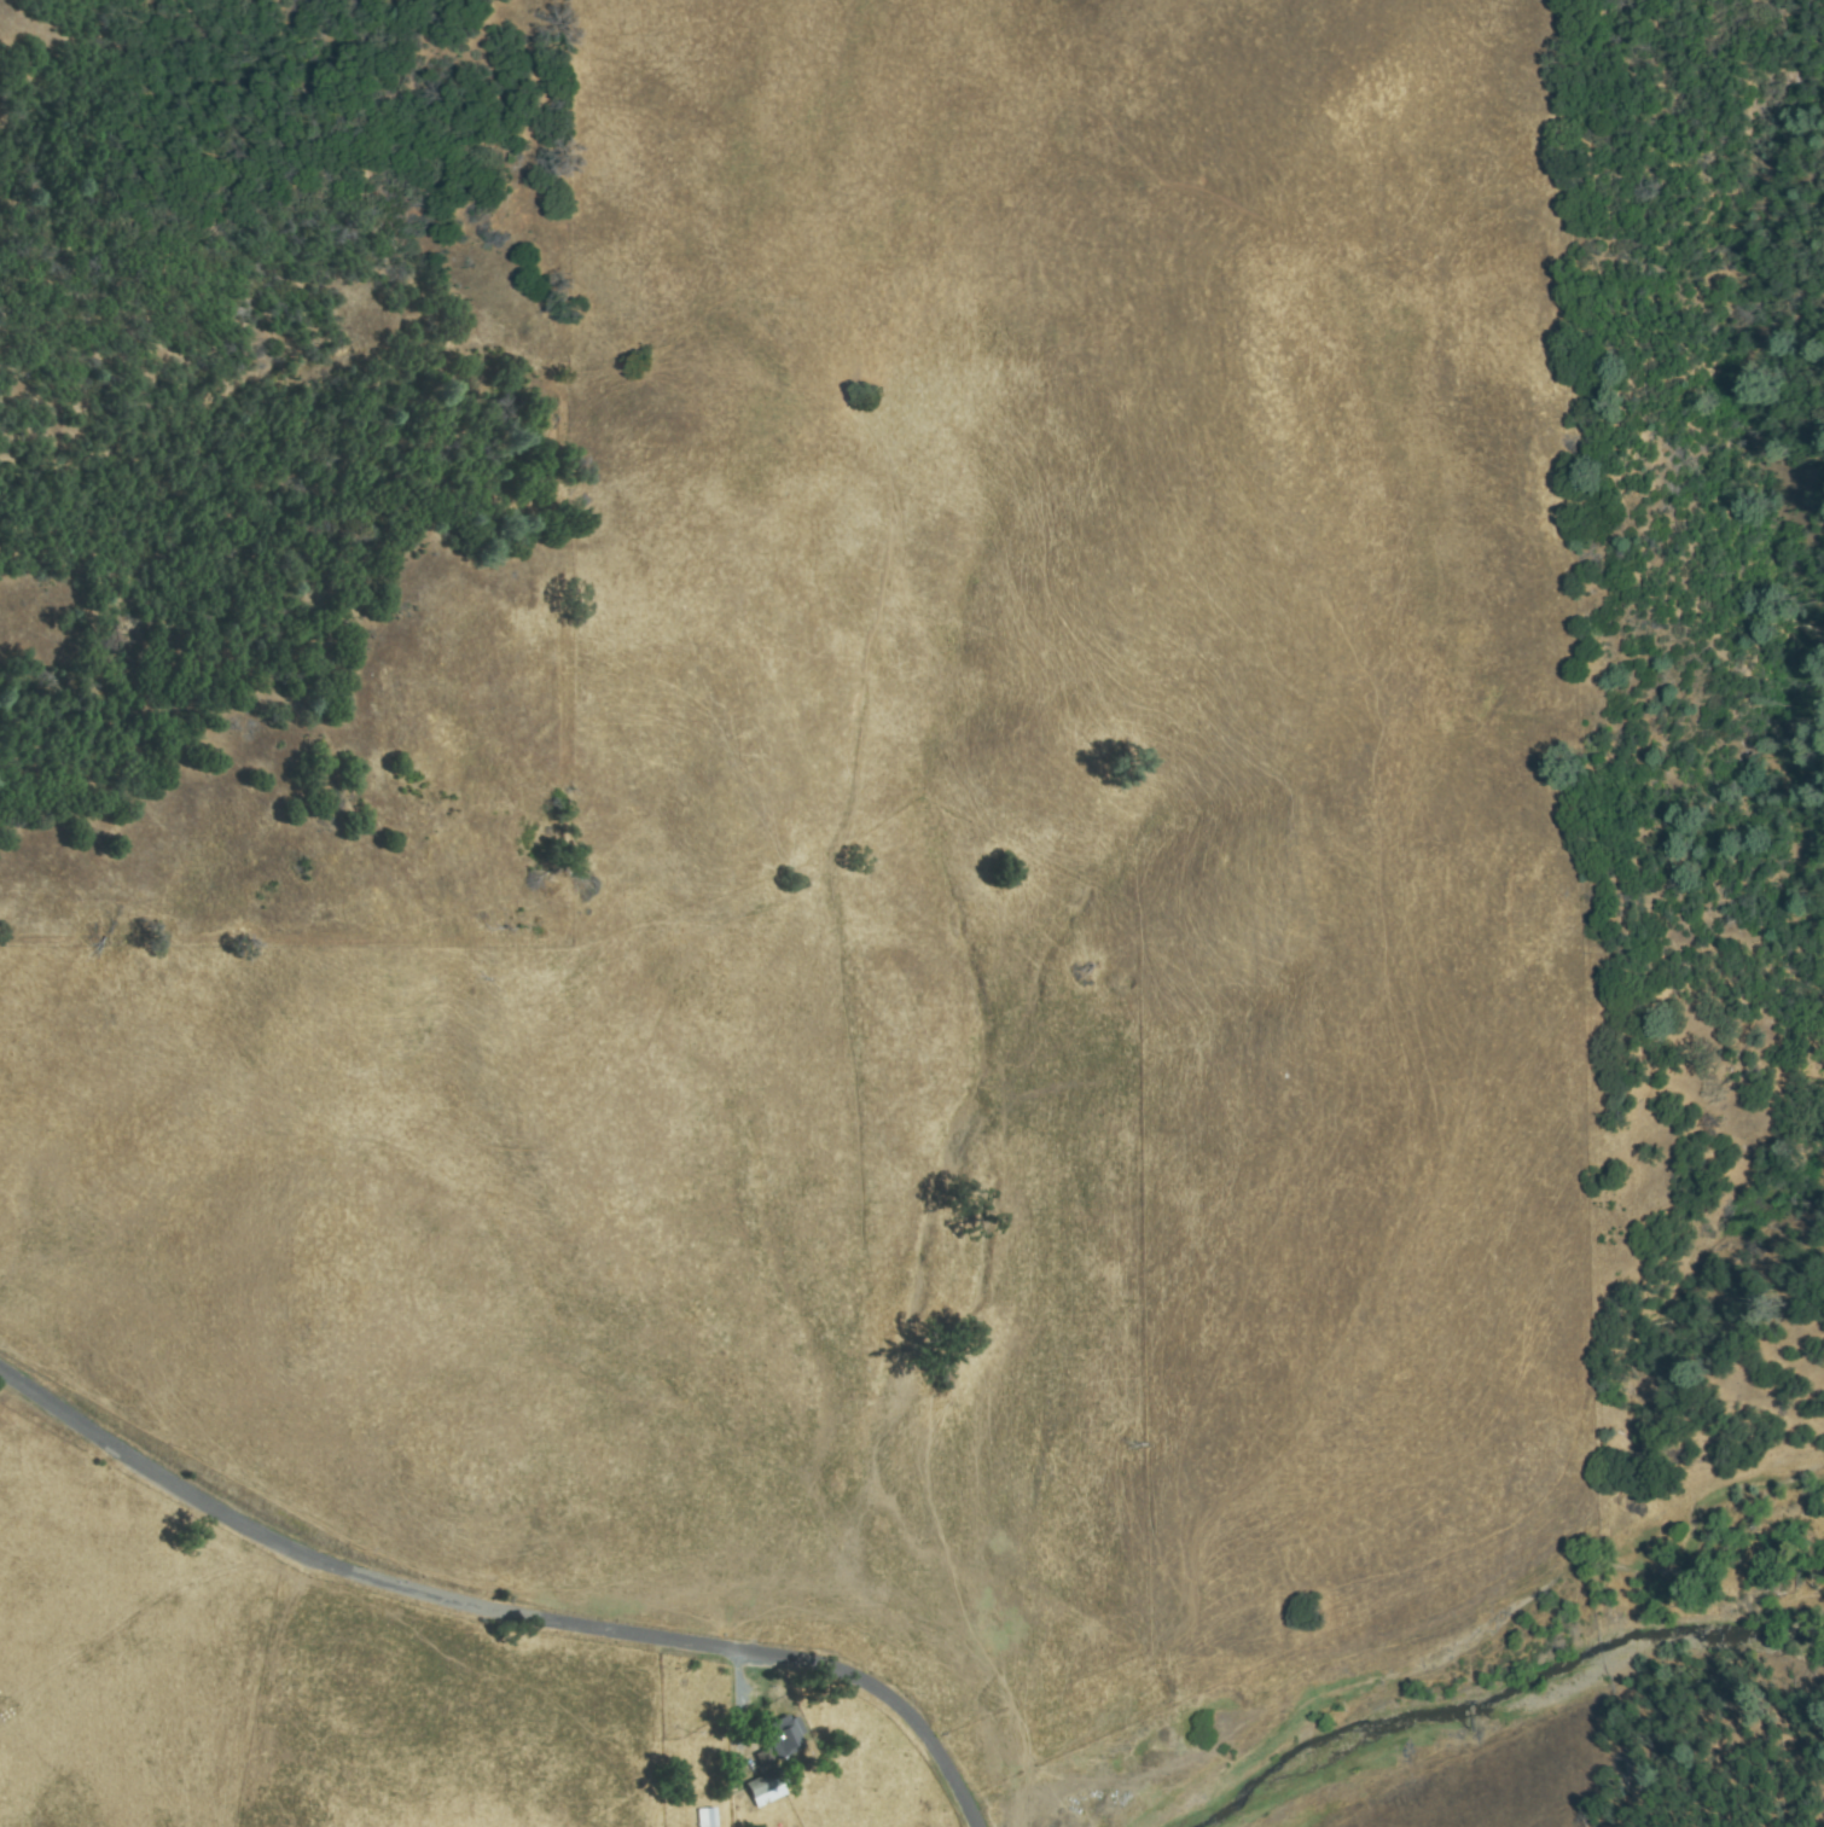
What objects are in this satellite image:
road: (498, 1611)
road: (809, 1715)
building: (784, 1736)
building: (763, 1758)
building: (767, 1785)
building: (705, 1819)

